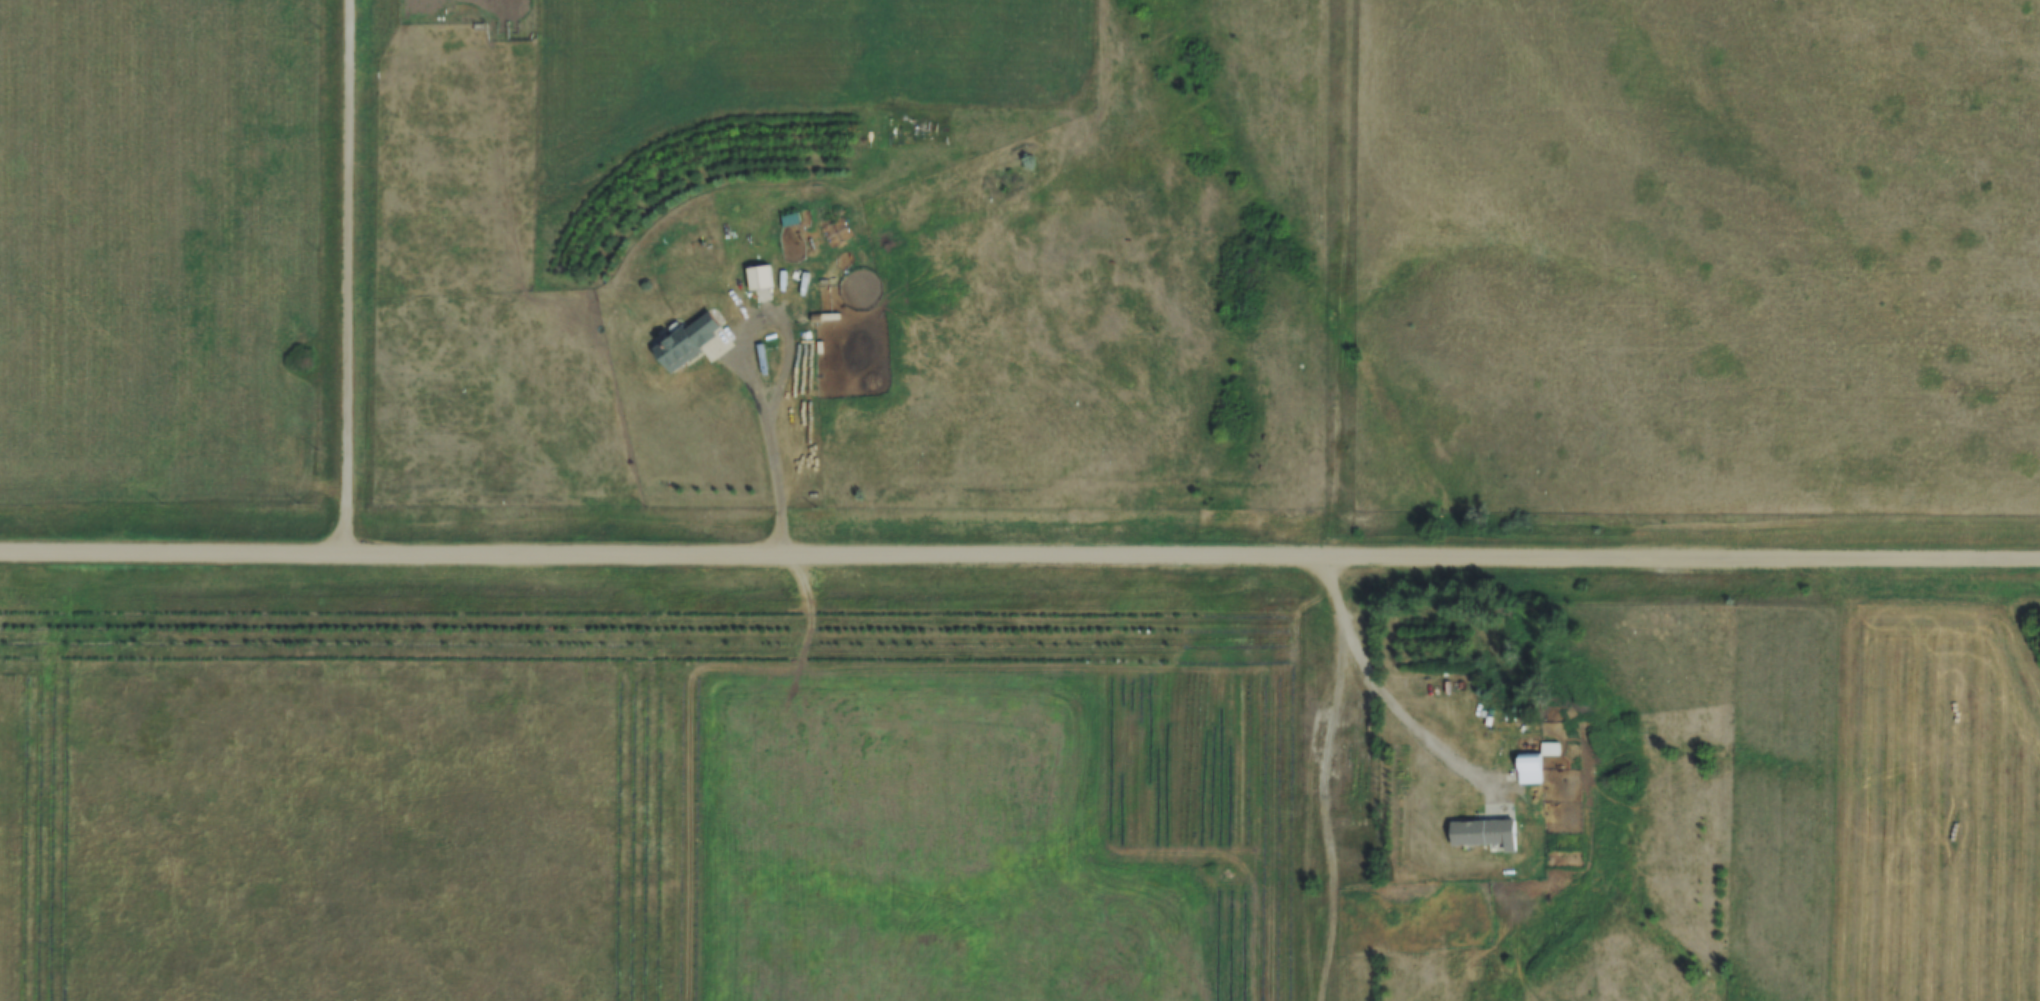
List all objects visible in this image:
building: (791, 220)
building: (794, 245)
road: (346, 274)
road: (1341, 277)
building: (760, 281)
building: (688, 342)
road: (773, 446)
road: (1020, 552)
road: (1388, 698)
building: (1535, 762)
road: (1326, 792)
building: (1485, 831)

